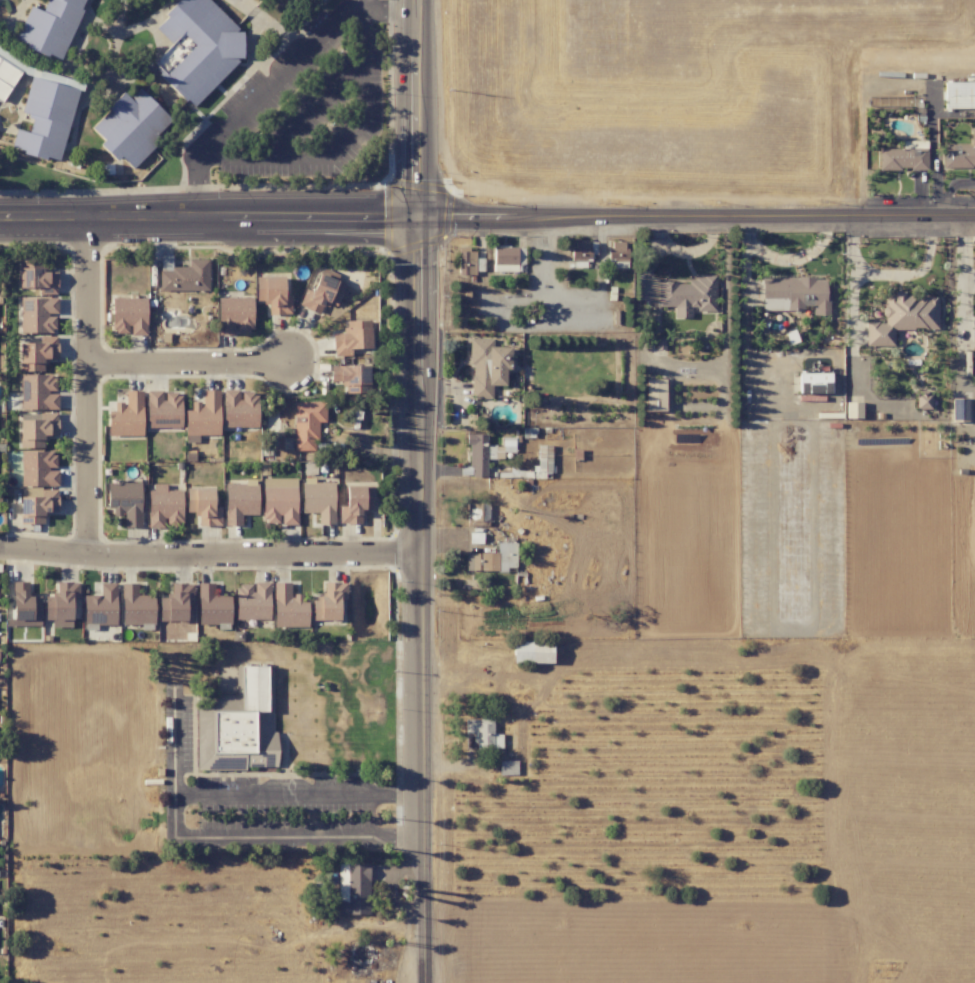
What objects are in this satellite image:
building: (50, 26)
building: (197, 48)
building: (6, 77)
road: (277, 80)
building: (959, 95)
road: (312, 107)
road: (422, 110)
building: (45, 119)
building: (130, 127)
road: (342, 141)
building: (960, 154)
building: (904, 156)
road: (698, 219)
road: (211, 222)
road: (520, 231)
building: (581, 251)
building: (617, 251)
road: (963, 252)
building: (508, 259)
building: (468, 262)
building: (185, 277)
building: (38, 280)
building: (321, 294)
building: (795, 294)
building: (273, 295)
building: (688, 296)
road: (578, 298)
building: (38, 315)
building: (235, 315)
building: (128, 316)
building: (902, 317)
building: (972, 330)
building: (352, 338)
building: (37, 354)
road: (190, 365)
building: (351, 378)
building: (814, 383)
road: (89, 388)
building: (38, 392)
building: (654, 395)
building: (923, 400)
building: (163, 409)
building: (239, 409)
building: (959, 409)
building: (853, 410)
building: (127, 416)
building: (203, 417)
building: (307, 424)
building: (37, 430)
building: (542, 461)
building: (38, 469)
building: (318, 500)
building: (240, 501)
building: (279, 501)
building: (125, 502)
building: (356, 503)
building: (164, 505)
building: (203, 506)
road: (209, 556)
building: (493, 559)
building: (252, 601)
building: (328, 601)
building: (175, 602)
road: (419, 602)
building: (61, 604)
building: (25, 605)
building: (212, 605)
building: (101, 606)
building: (136, 606)
building: (288, 607)
building: (532, 652)
building: (238, 724)
building: (483, 734)
building: (508, 768)
road: (248, 796)
road: (281, 832)
building: (353, 889)

